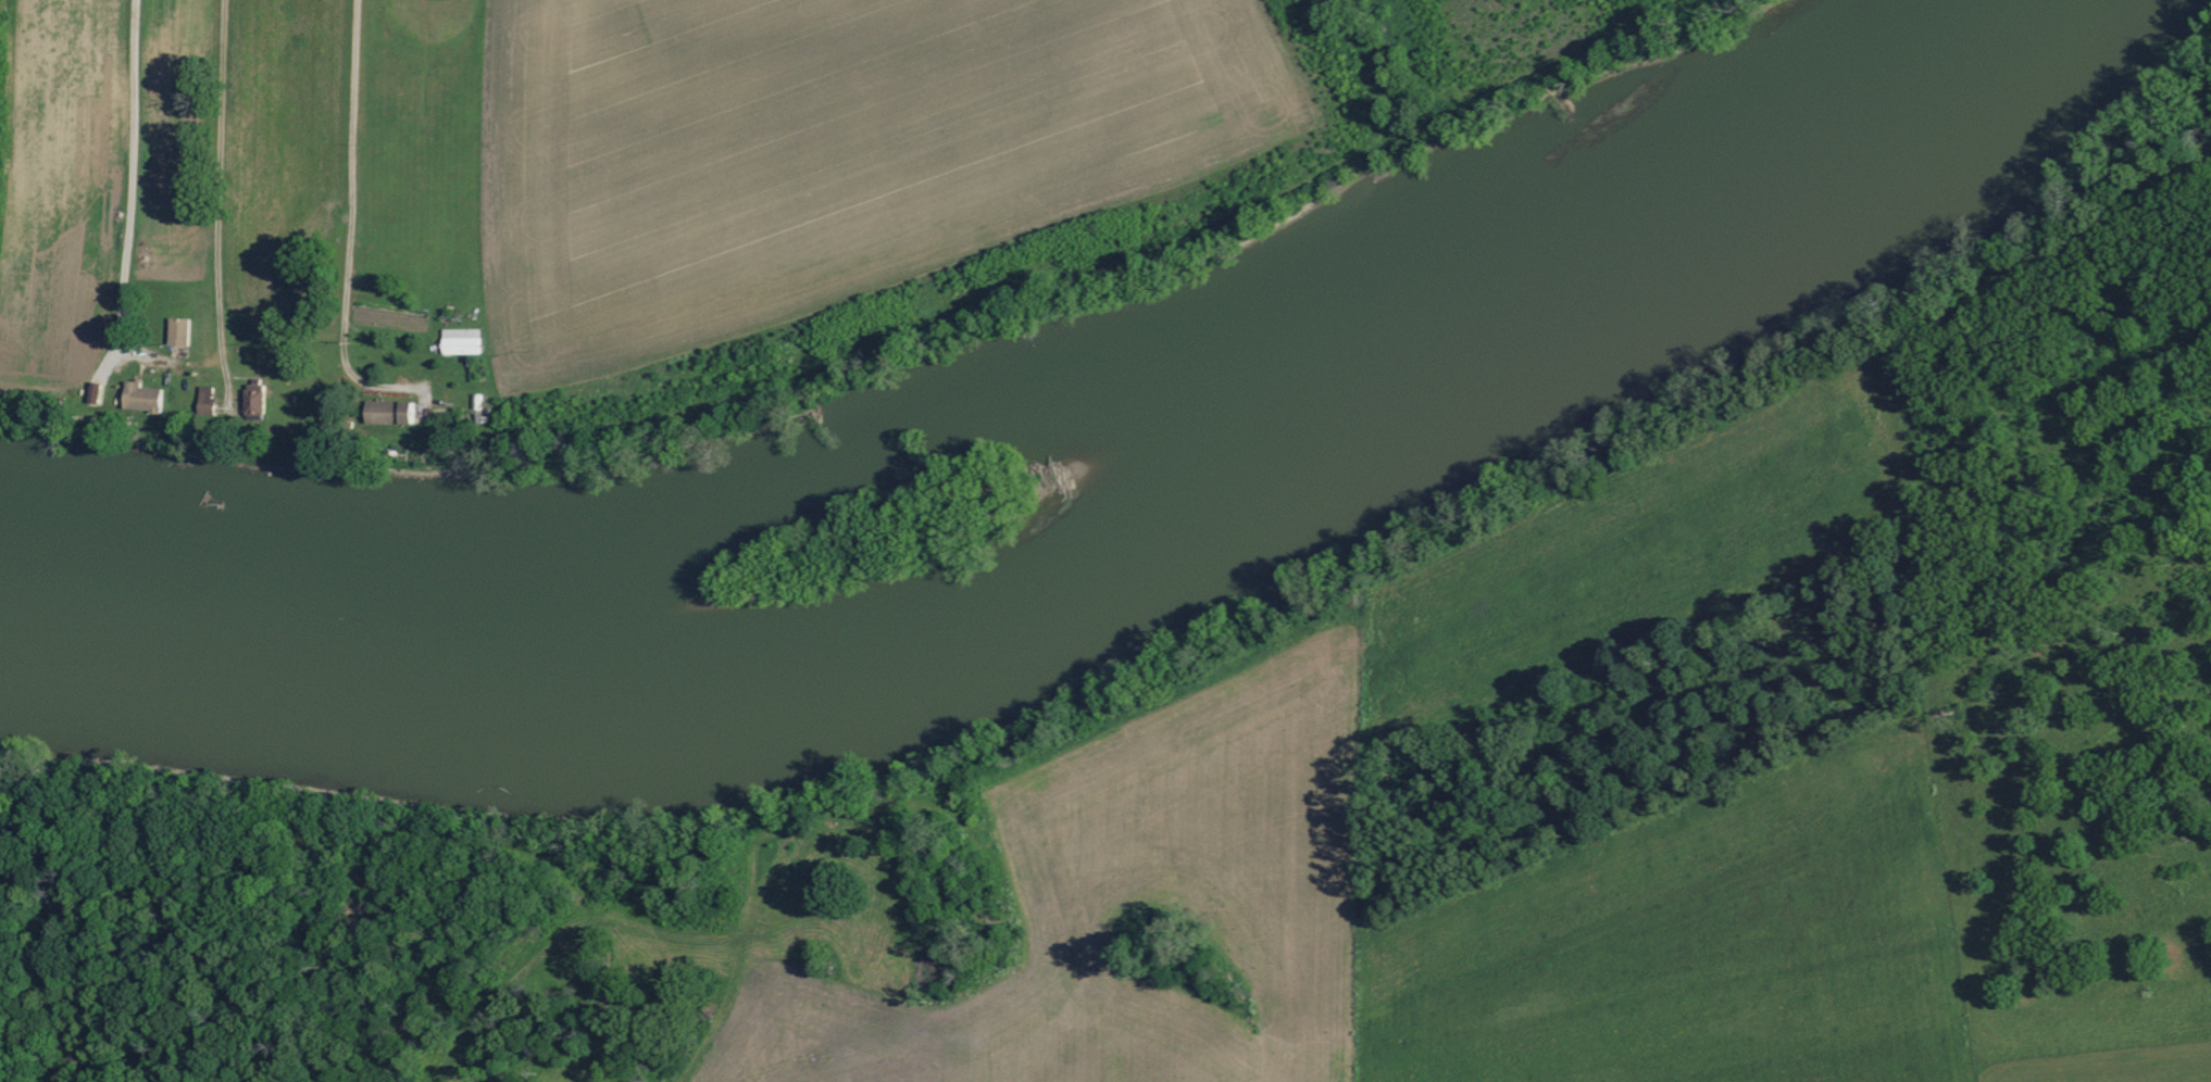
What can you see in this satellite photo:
road: (217, 204)
road: (130, 206)
road: (350, 214)
building: (180, 331)
building: (462, 340)
building: (147, 398)
building: (208, 401)
building: (257, 401)
building: (392, 412)
river: (1074, 576)

